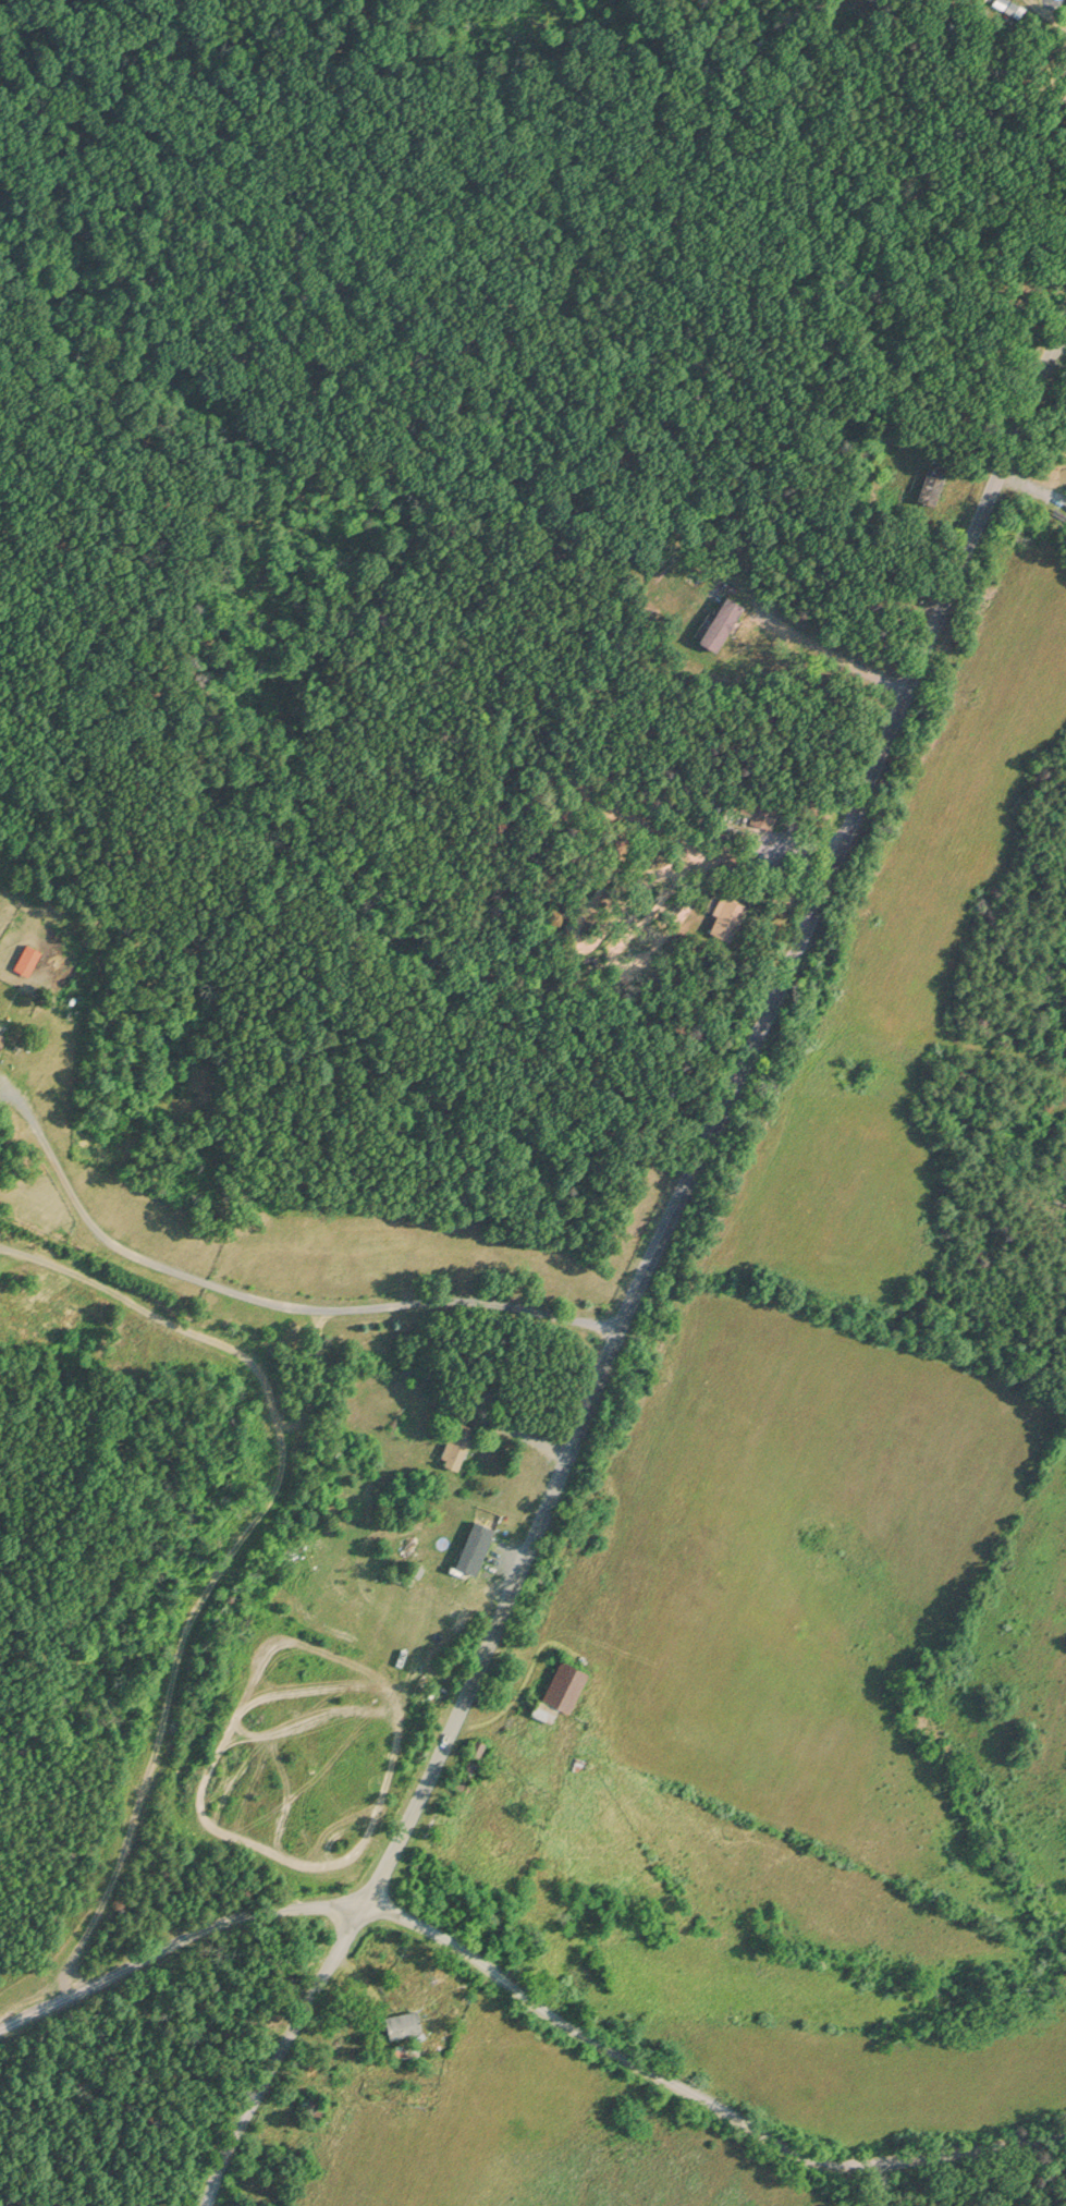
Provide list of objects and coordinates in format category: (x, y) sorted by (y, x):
road: (1061, 350)
building: (927, 483)
building: (718, 620)
road: (830, 660)
building: (29, 955)
building: (3, 1034)
road: (645, 1270)
road: (259, 1299)
building: (455, 1442)
building: (333, 1458)
road: (237, 1544)
building: (477, 1546)
building: (552, 1689)
building: (474, 1745)
road: (530, 1996)
building: (400, 2021)

